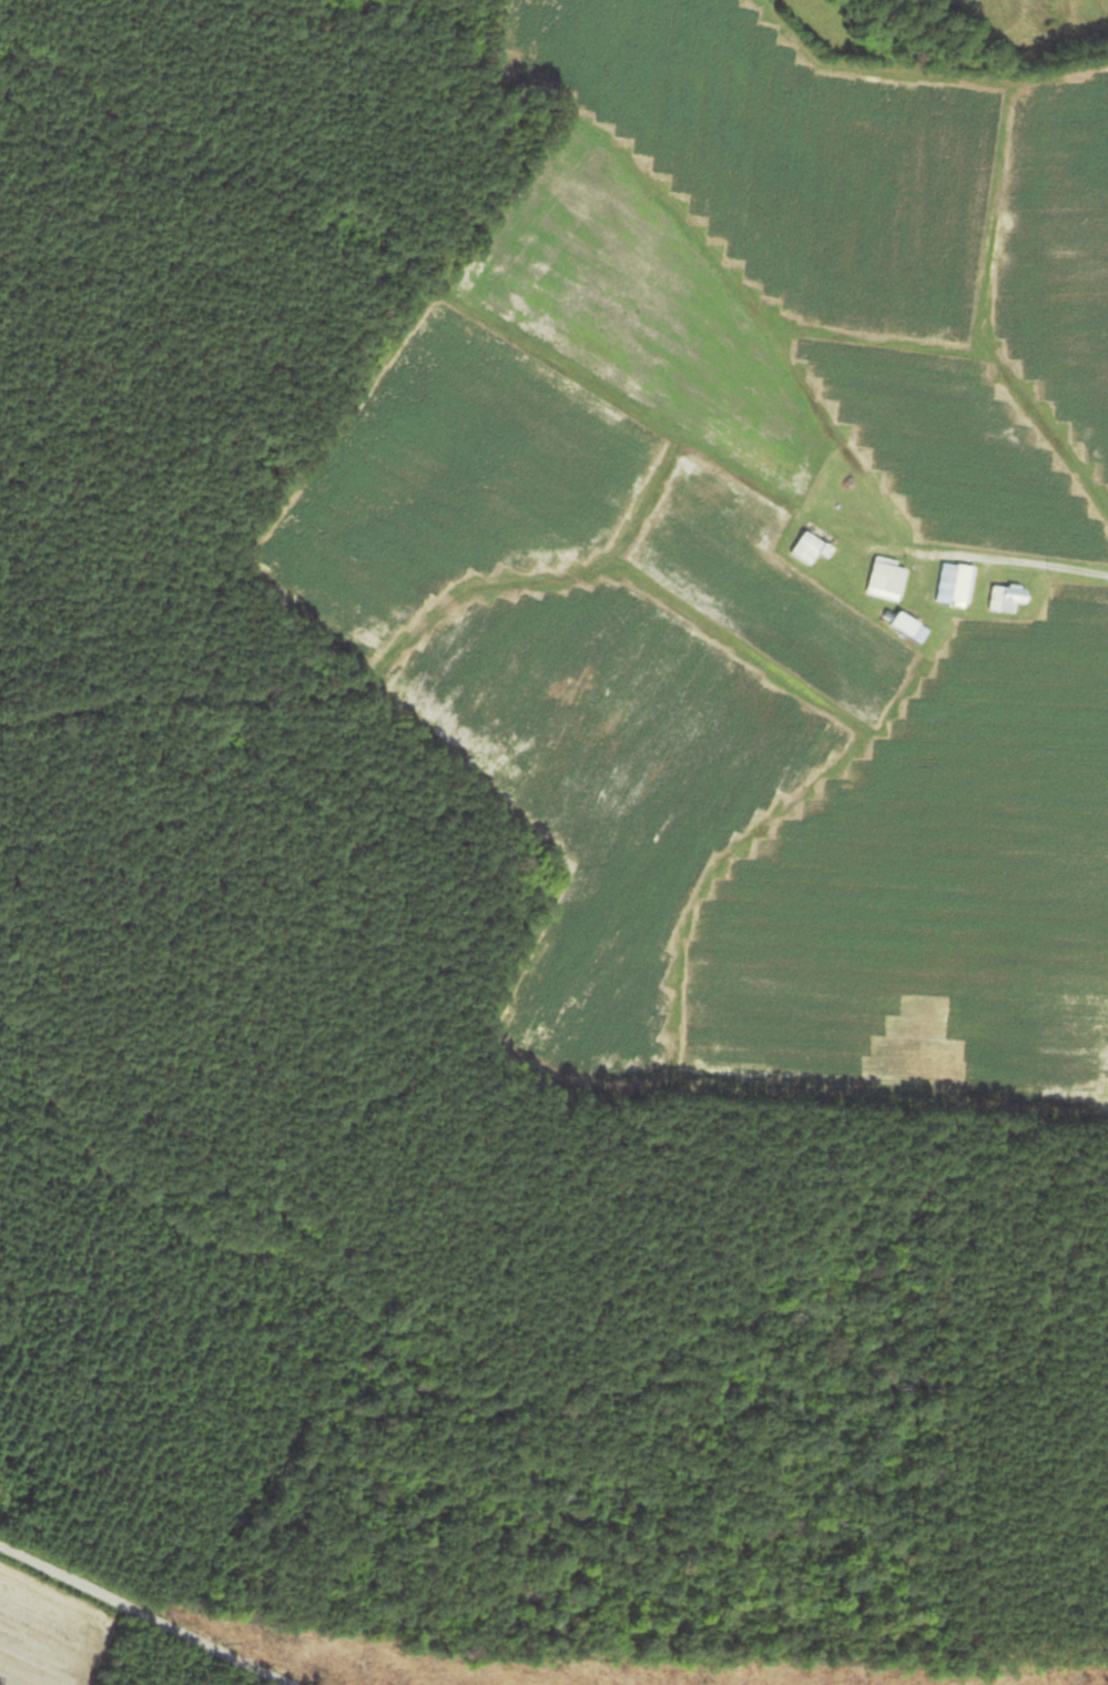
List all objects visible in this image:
building: (809, 548)
road: (1047, 571)
building: (883, 579)
building: (958, 585)
building: (1002, 599)
building: (899, 625)
road: (150, 1614)

